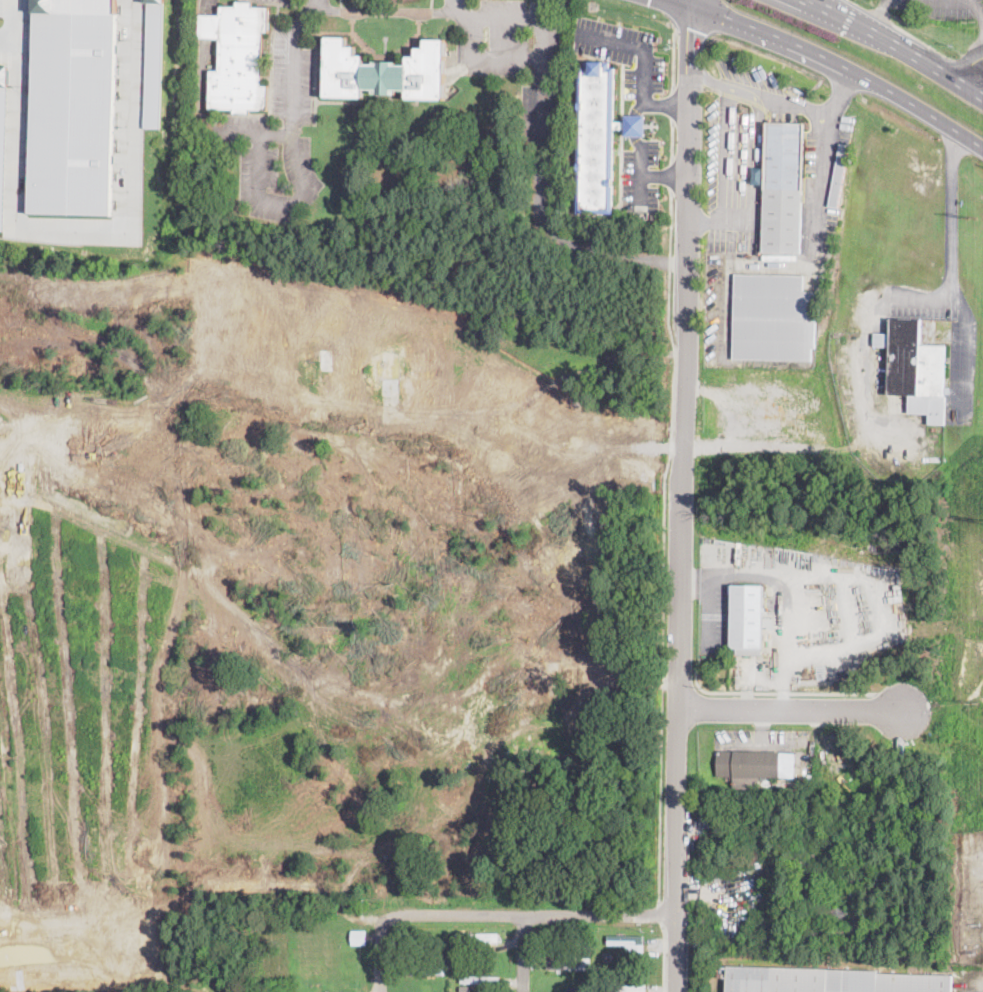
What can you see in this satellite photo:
road: (815, 0)
road: (925, 1)
road: (684, 3)
road: (693, 3)
road: (655, 4)
road: (209, 6)
road: (383, 8)
road: (458, 11)
road: (978, 13)
road: (879, 14)
road: (714, 18)
power tower: (970, 19)
road: (208, 26)
traffic signals: (693, 26)
road: (692, 33)
road: (10, 44)
road: (640, 44)
road: (901, 44)
road: (542, 53)
building: (237, 57)
building: (153, 61)
road: (674, 61)
road: (293, 63)
road: (843, 66)
road: (971, 70)
building: (384, 71)
road: (708, 80)
road: (838, 95)
road: (775, 102)
road: (667, 104)
road: (673, 105)
building: (72, 106)
road: (202, 112)
road: (632, 122)
road: (538, 127)
building: (3, 134)
building: (599, 136)
road: (673, 140)
road: (739, 156)
road: (666, 173)
road: (641, 175)
building: (839, 176)
road: (672, 177)
building: (782, 187)
road: (821, 193)
road: (268, 199)
road: (951, 214)
building: (652, 215)
power tower: (971, 216)
road: (713, 221)
road: (78, 241)
building: (774, 318)
road: (866, 336)
road: (966, 353)
building: (320, 358)
building: (916, 369)
building: (390, 371)
road: (684, 498)
building: (590, 535)
road: (665, 547)
road: (783, 595)
building: (746, 618)
road: (776, 694)
building: (580, 699)
power tower: (973, 700)
road: (787, 706)
road: (763, 724)
road: (766, 744)
building: (754, 767)
building: (830, 793)
building: (830, 812)
building: (838, 813)
building: (834, 914)
road: (661, 915)
road: (531, 917)
building: (887, 929)
building: (357, 936)
building: (481, 937)
building: (627, 940)
building: (585, 953)
road: (524, 955)
road: (380, 958)
road: (665, 959)
building: (575, 961)
building: (563, 966)
building: (420, 971)
building: (480, 979)
building: (829, 980)
building: (626, 988)
building: (463, 990)

